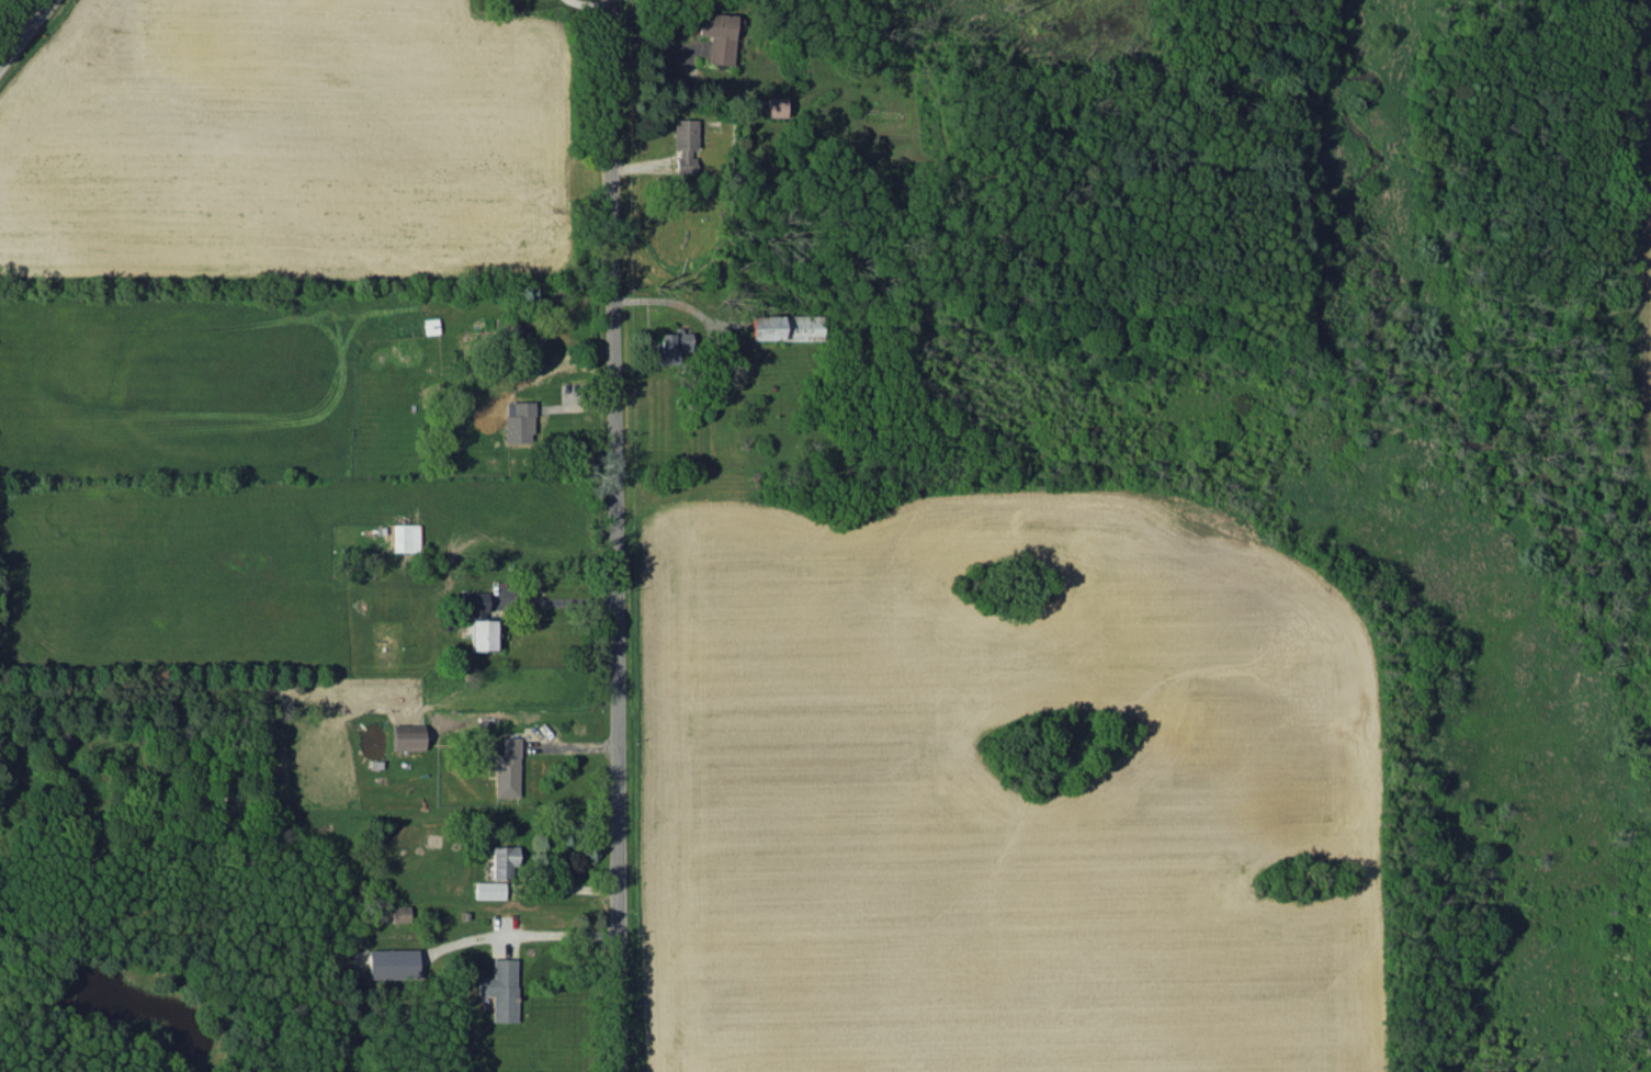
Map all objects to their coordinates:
road: (21, 25)
building: (716, 35)
building: (773, 105)
building: (682, 144)
road: (674, 301)
building: (783, 326)
building: (671, 345)
building: (518, 420)
road: (609, 535)
building: (405, 537)
road: (554, 601)
building: (473, 602)
building: (482, 633)
building: (406, 735)
building: (506, 767)
building: (504, 861)
building: (488, 889)
building: (399, 912)
road: (556, 934)
building: (391, 962)
building: (499, 989)

